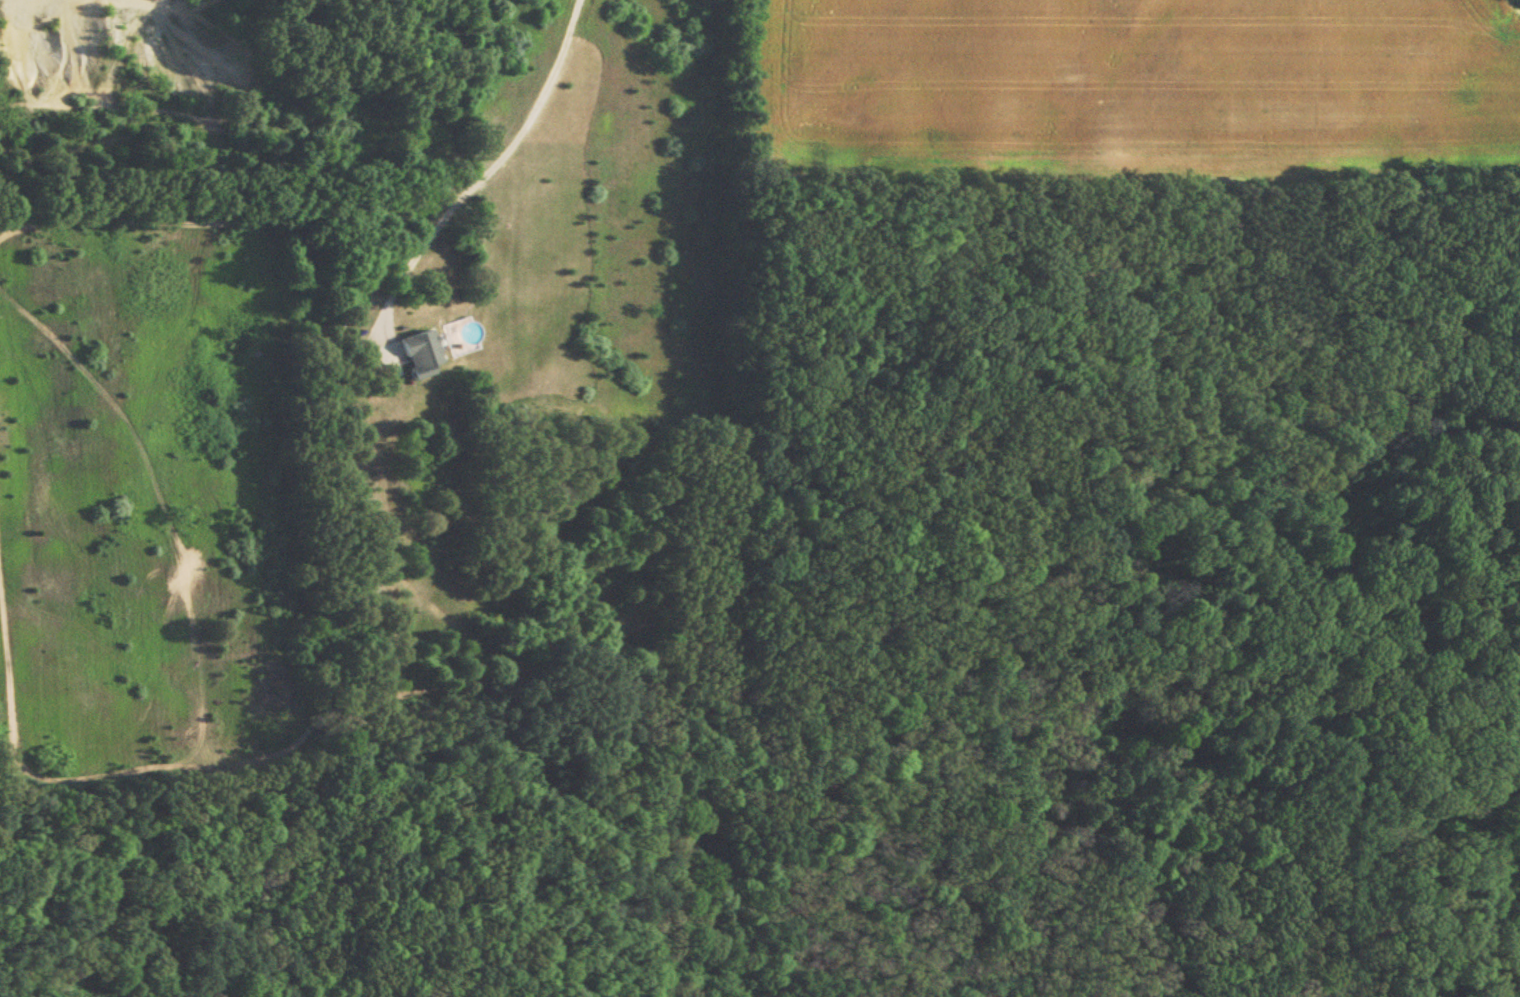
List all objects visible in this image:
road: (489, 170)
building: (419, 353)

